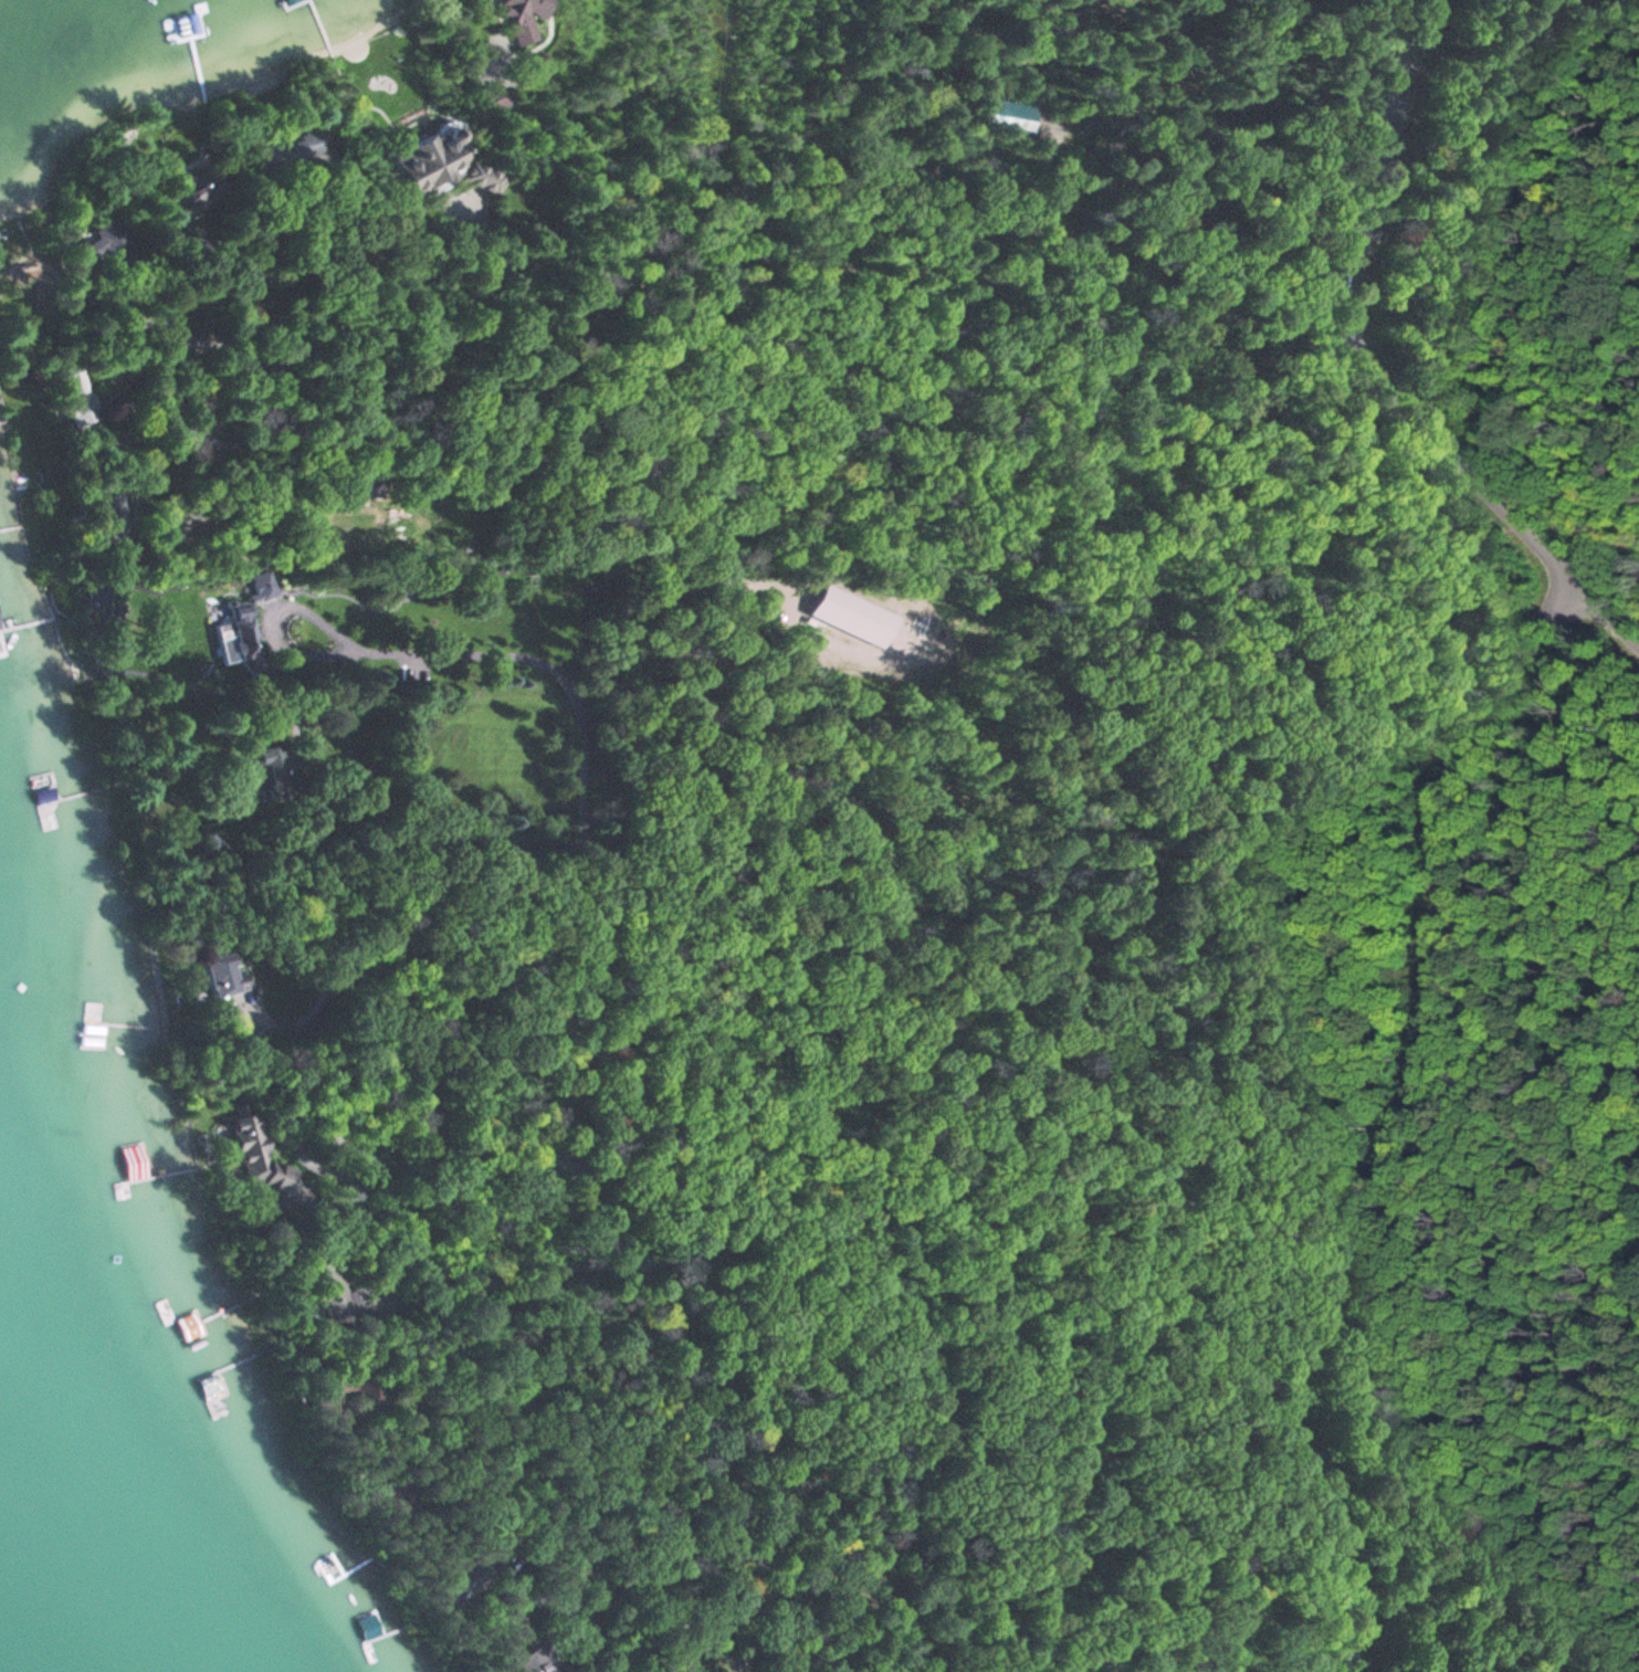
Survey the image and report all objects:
building: (290, 2)
building: (523, 18)
building: (498, 99)
building: (288, 149)
building: (442, 165)
road: (633, 180)
building: (198, 185)
road: (488, 233)
building: (107, 242)
road: (790, 266)
road: (1357, 330)
building: (75, 408)
road: (249, 529)
road: (1605, 616)
building: (852, 617)
building: (243, 635)
road: (505, 653)
building: (3, 659)
building: (275, 770)
road: (642, 911)
building: (225, 972)
building: (91, 1024)
road: (1416, 1128)
building: (258, 1153)
road: (850, 1218)
road: (880, 1290)
building: (230, 1387)
road: (598, 1643)

